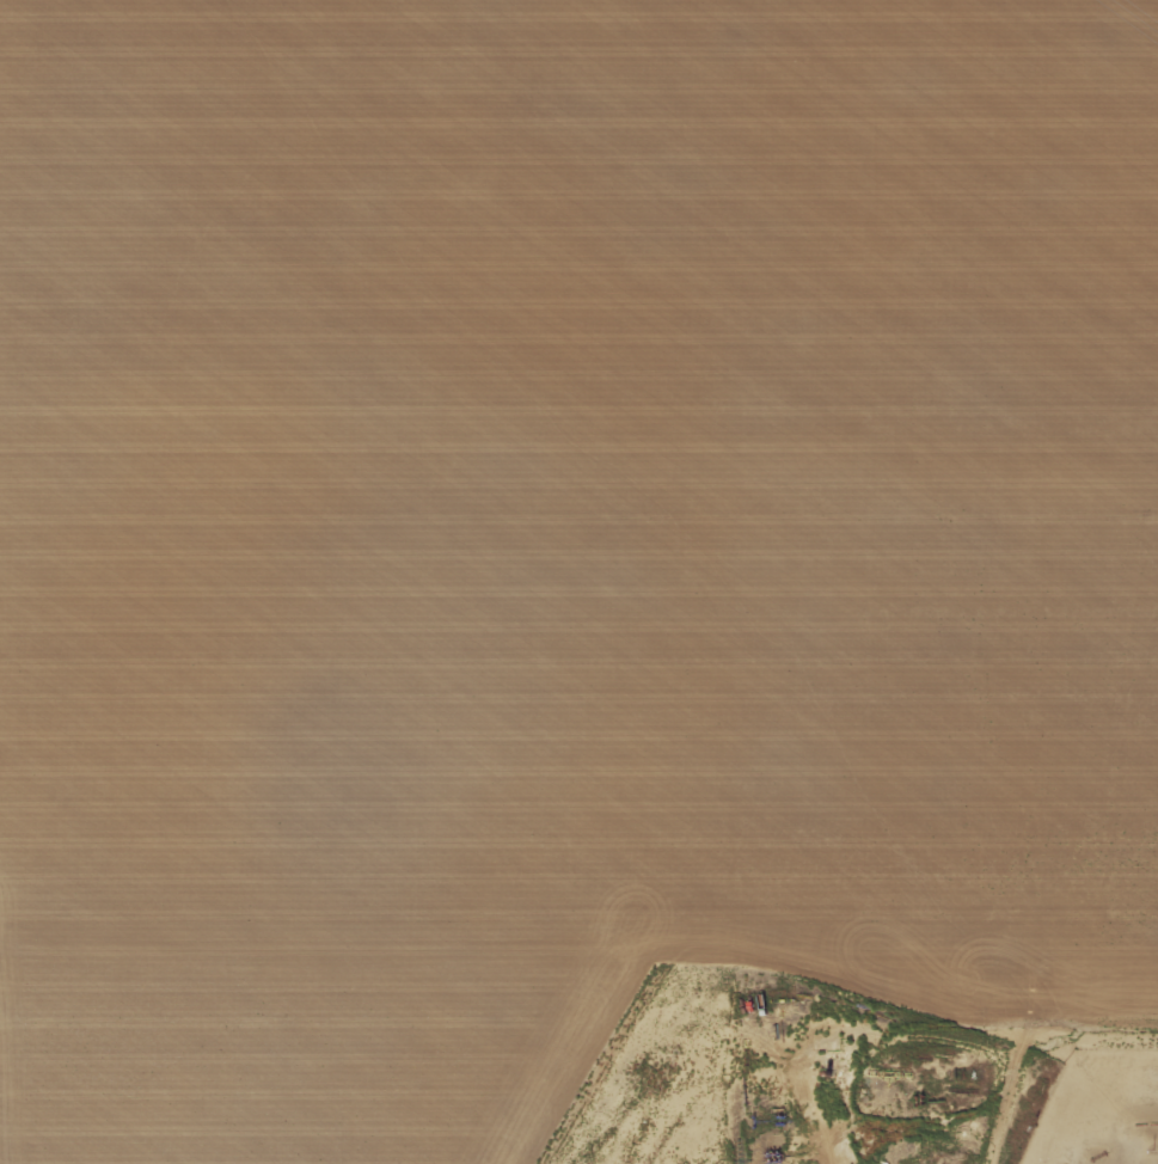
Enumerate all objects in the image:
road: (1117, 1128)

